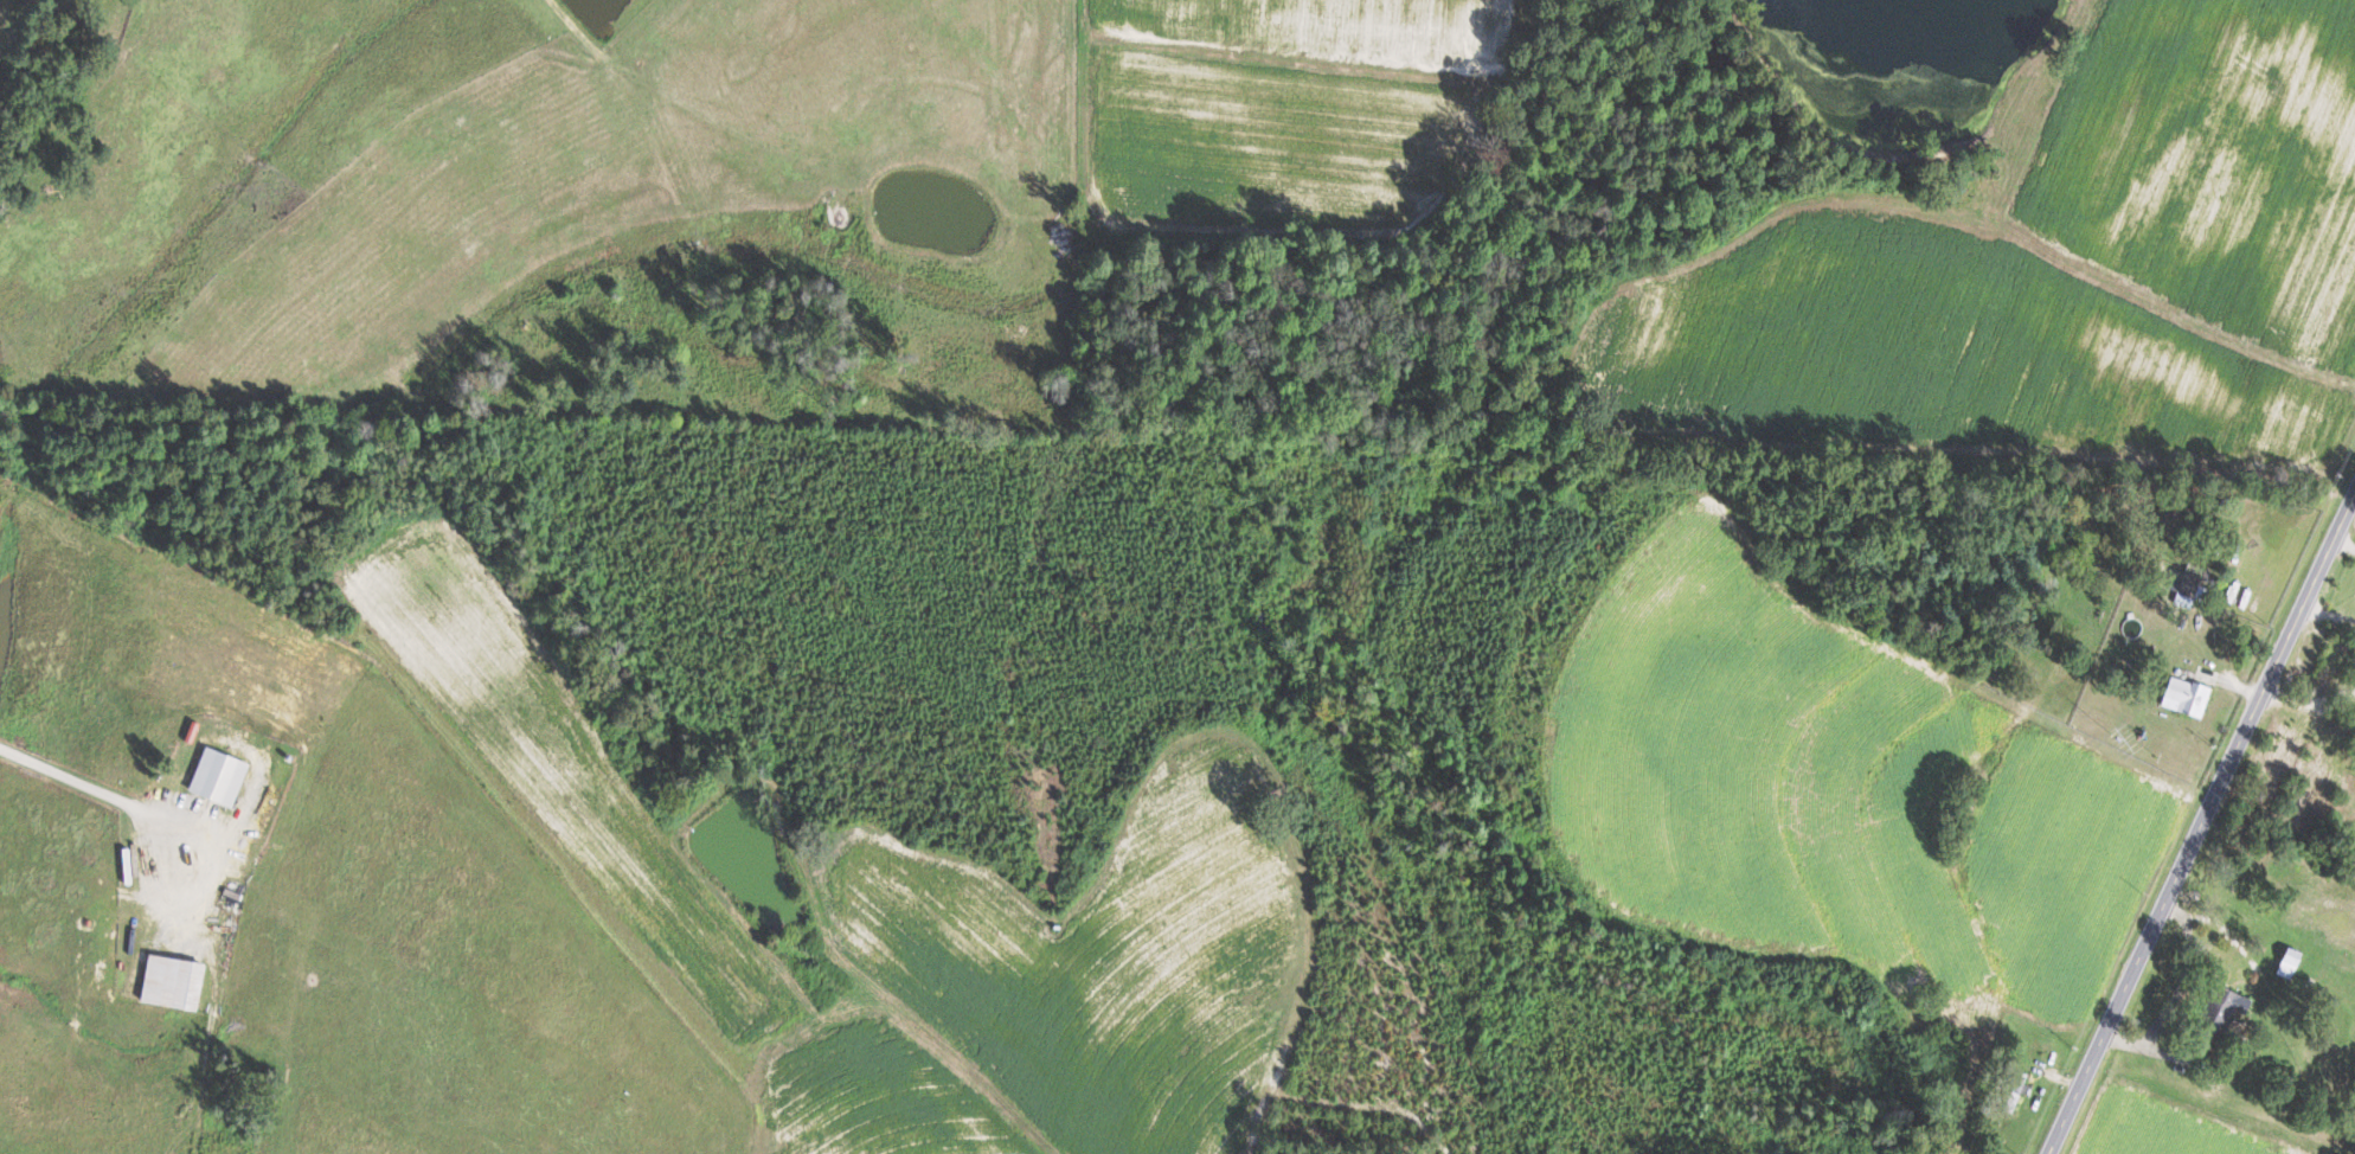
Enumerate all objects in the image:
building: (0, 12)
building: (2183, 592)
road: (2329, 610)
building: (2182, 695)
road: (2311, 698)
building: (224, 775)
road: (79, 783)
road: (2202, 823)
building: (2285, 962)
building: (179, 981)
road: (2175, 989)
building: (2215, 1013)
building: (2014, 1092)

